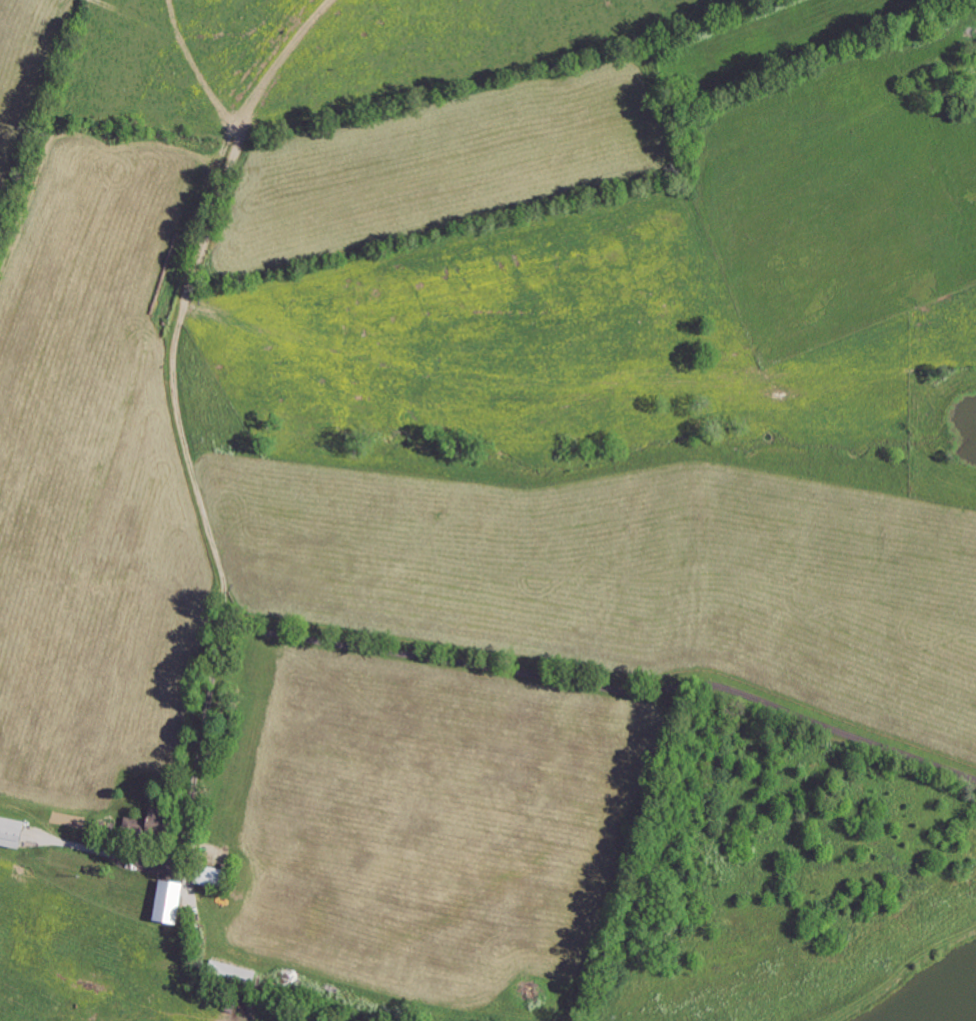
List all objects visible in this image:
road: (425, 660)
building: (166, 820)
building: (140, 826)
building: (16, 833)
building: (175, 902)

